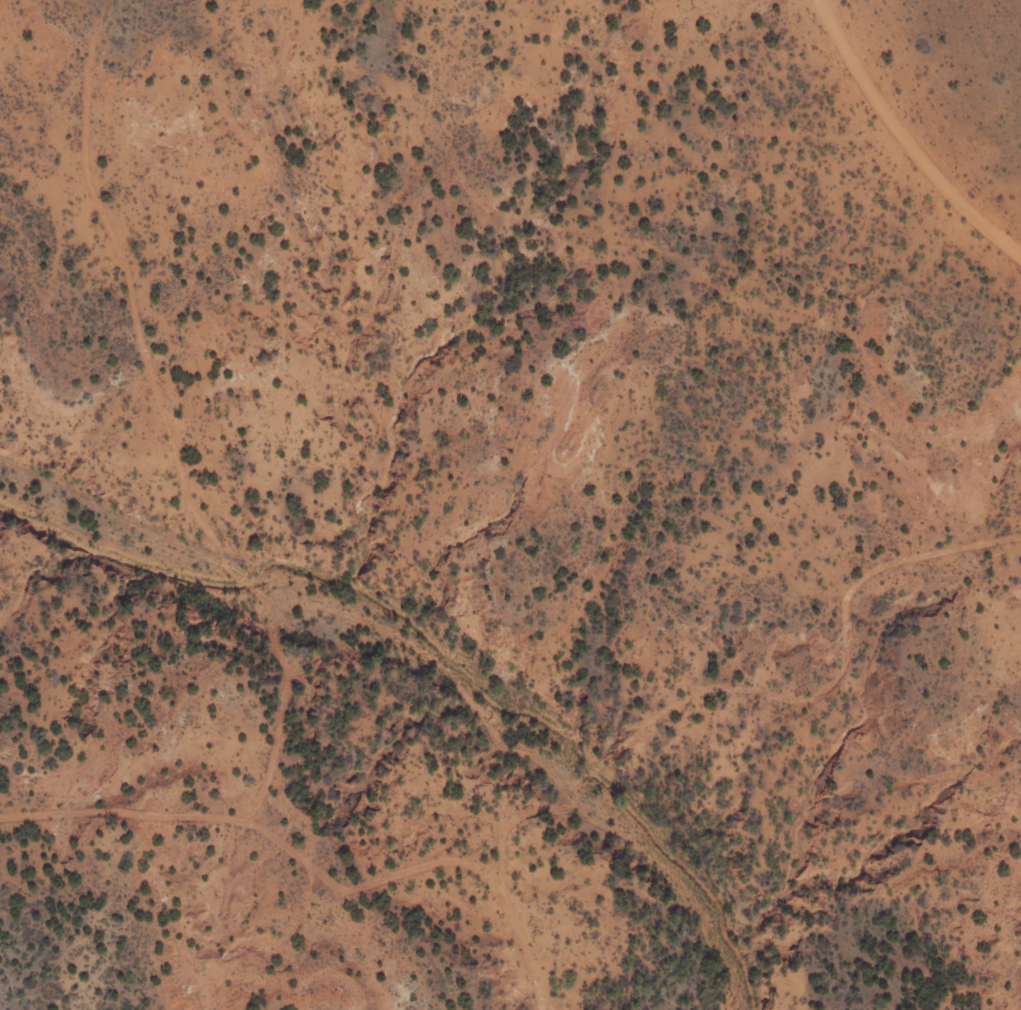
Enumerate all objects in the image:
road: (902, 152)

